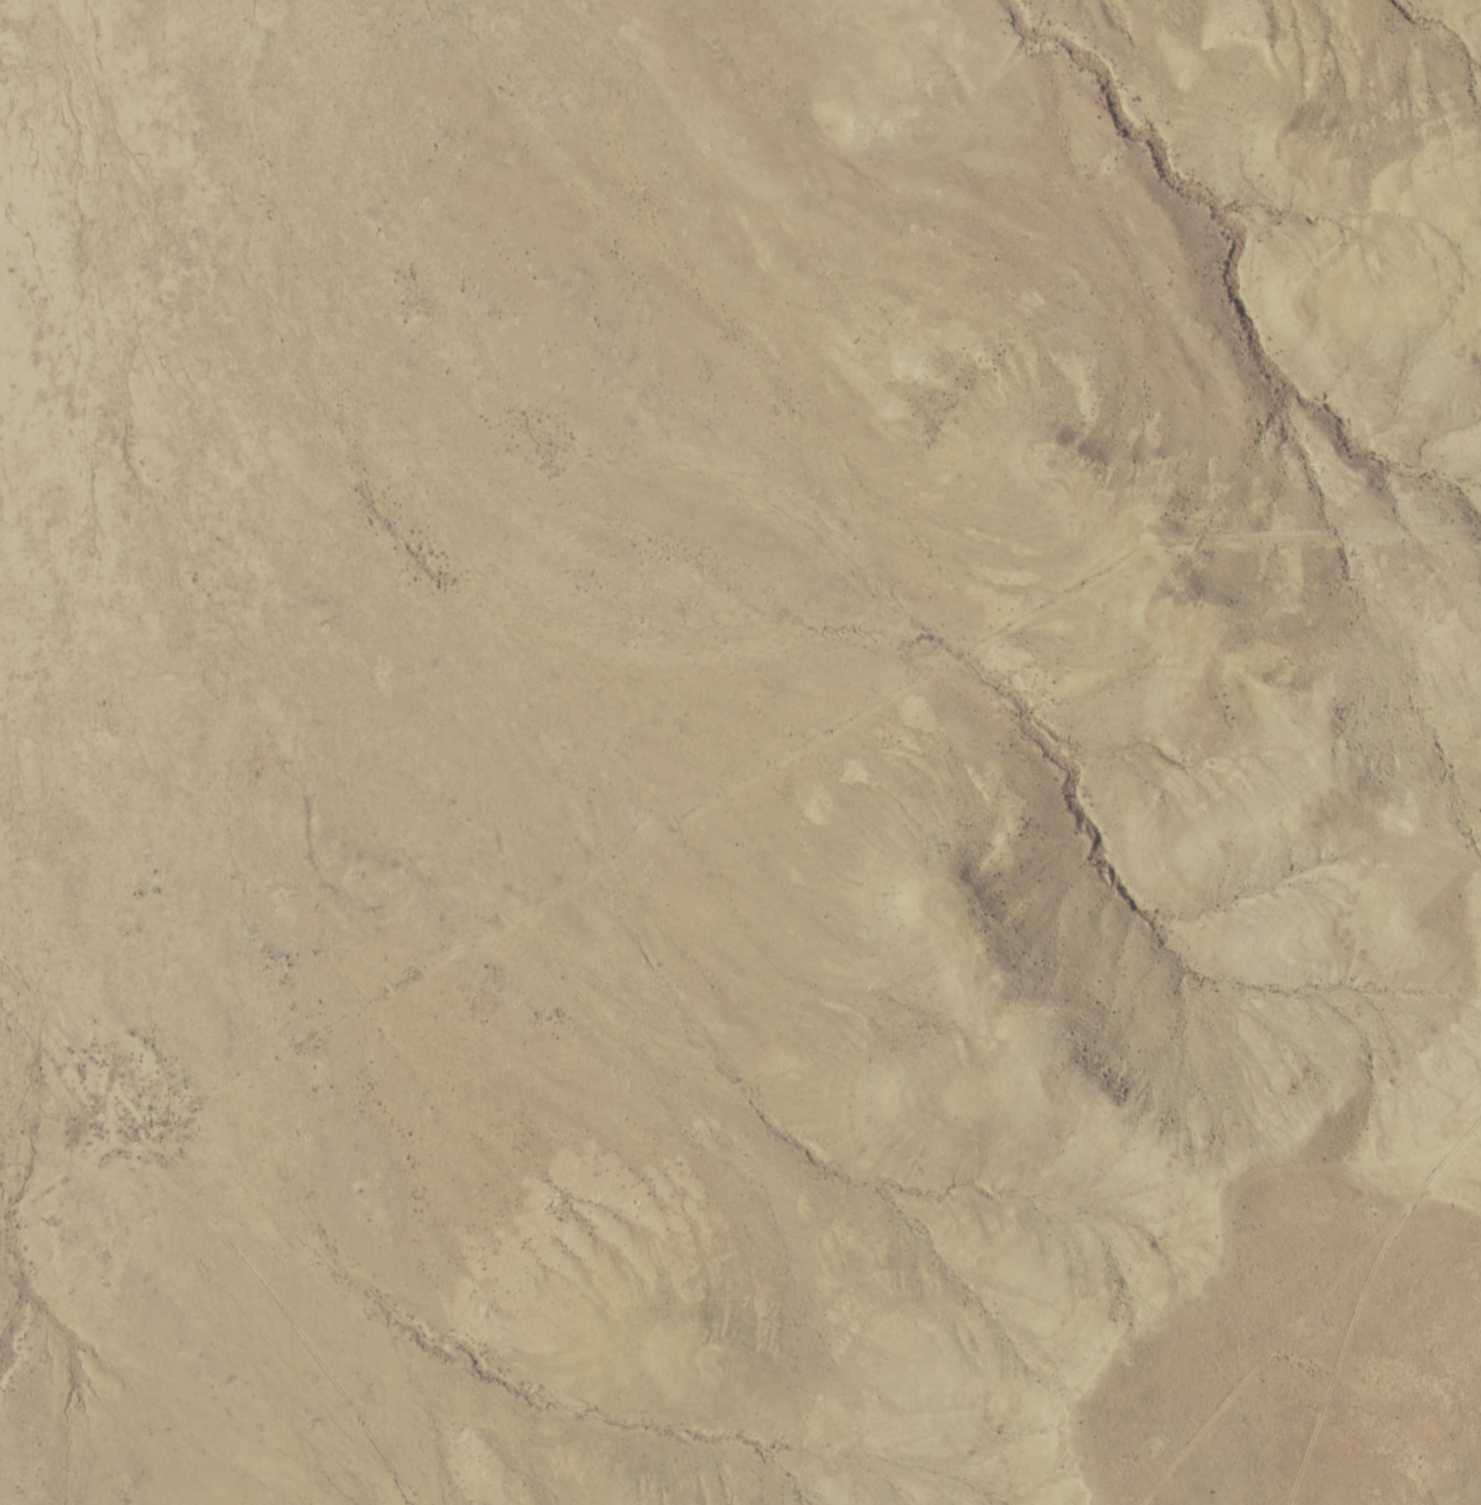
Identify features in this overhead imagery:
road: (1337, 1279)

